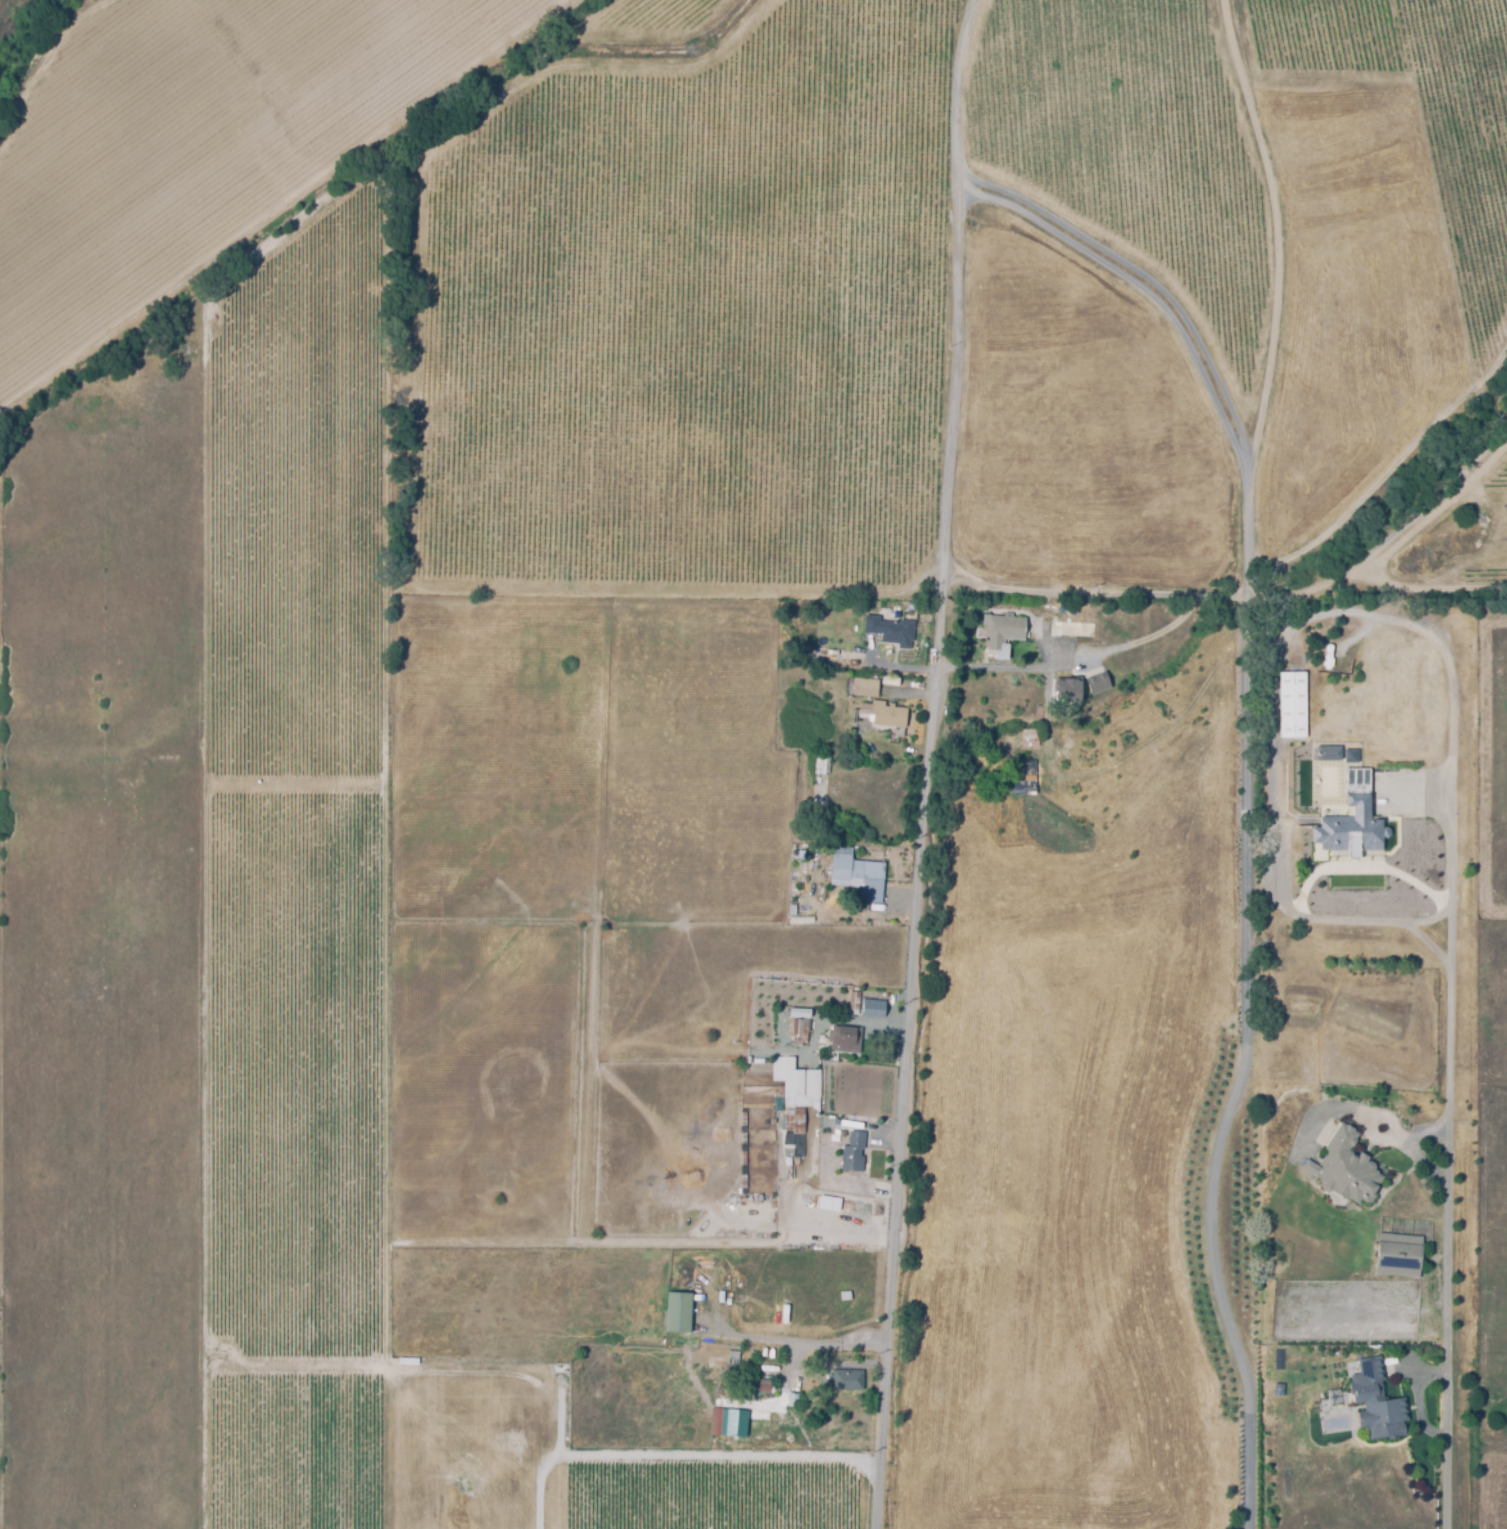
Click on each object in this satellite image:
road: (1262, 119)
road: (1138, 271)
road: (1131, 281)
building: (1067, 626)
building: (1267, 627)
building: (892, 630)
building: (1125, 631)
building: (1005, 632)
road: (1014, 666)
building: (870, 673)
building: (889, 679)
building: (868, 686)
building: (1094, 687)
building: (1071, 689)
building: (1294, 702)
building: (1026, 705)
building: (1037, 711)
building: (888, 713)
building: (1056, 713)
building: (1026, 738)
building: (1328, 752)
building: (1352, 755)
building: (823, 763)
road: (935, 764)
building: (1024, 779)
building: (1351, 827)
building: (818, 833)
building: (795, 855)
building: (856, 874)
road: (1397, 875)
road: (1285, 909)
building: (800, 918)
road: (1430, 944)
road: (1244, 991)
building: (871, 1007)
road: (849, 1021)
building: (799, 1029)
building: (843, 1038)
building: (794, 1082)
road: (1453, 1086)
building: (792, 1119)
building: (841, 1132)
building: (852, 1151)
building: (1342, 1170)
road: (820, 1238)
building: (1397, 1254)
building: (843, 1295)
building: (674, 1310)
road: (800, 1342)
building: (729, 1359)
building: (844, 1379)
building: (756, 1384)
building: (1276, 1388)
building: (790, 1400)
building: (1374, 1400)
building: (714, 1422)
road: (680, 1454)
building: (722, 1470)
building: (784, 1519)

